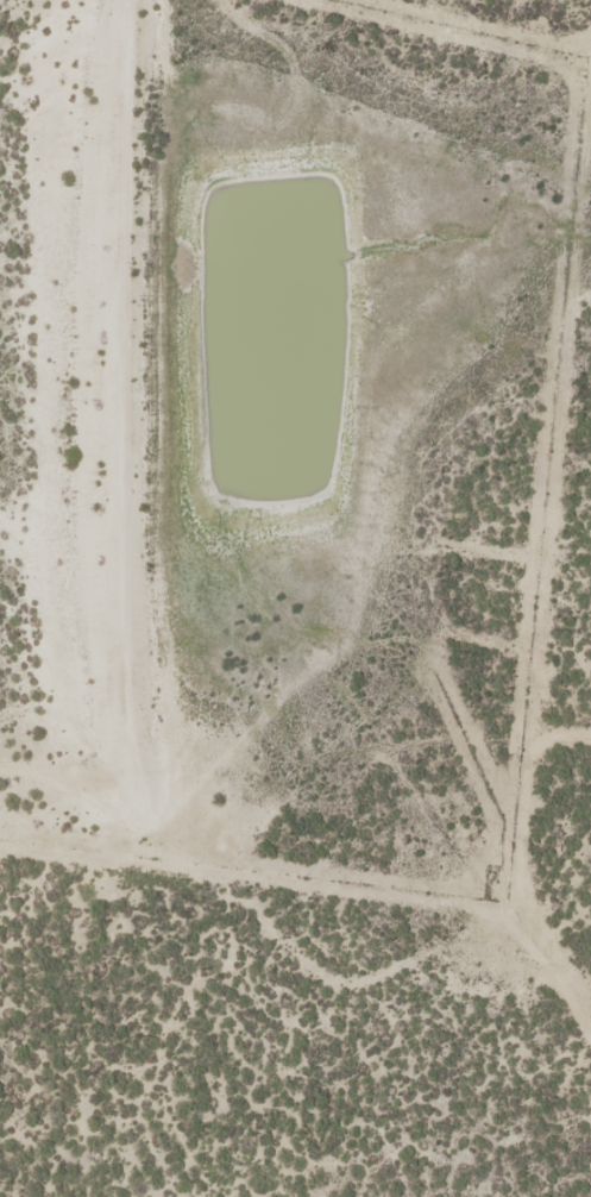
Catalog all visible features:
road: (295, 745)

